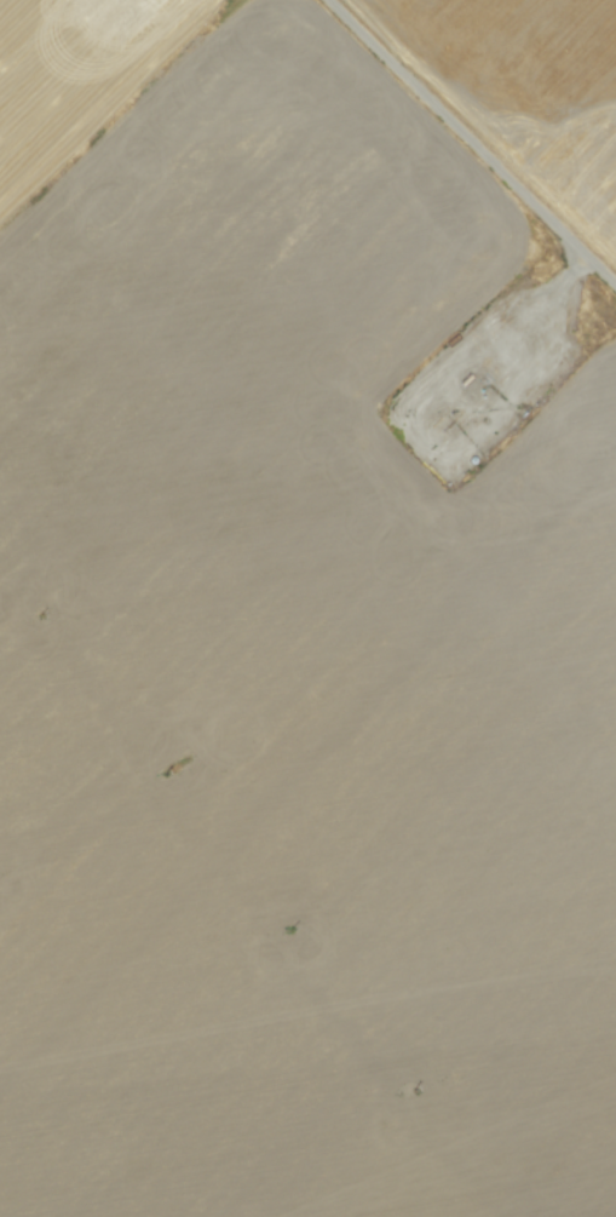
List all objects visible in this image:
road: (474, 140)

